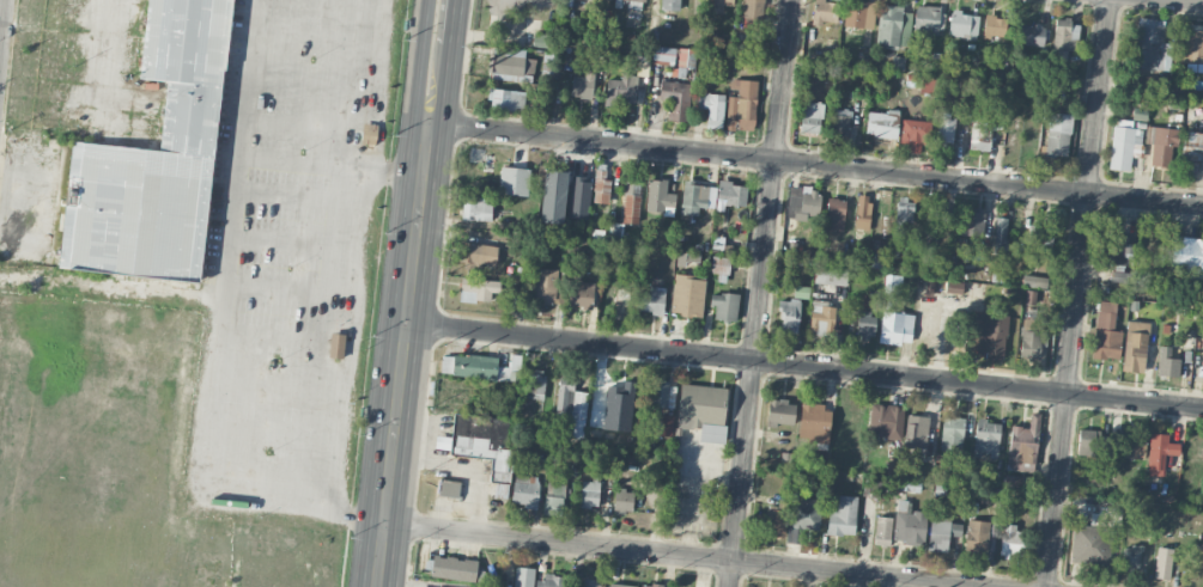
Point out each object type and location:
building: (637, 0)
road: (1195, 0)
building: (567, 2)
building: (723, 2)
building: (669, 5)
building: (753, 10)
building: (825, 11)
building: (859, 14)
building: (925, 19)
road: (2, 24)
building: (962, 25)
building: (893, 26)
building: (992, 26)
building: (1031, 35)
building: (1063, 38)
building: (541, 39)
building: (1189, 44)
building: (1150, 45)
building: (673, 56)
building: (510, 63)
building: (583, 85)
building: (926, 85)
building: (620, 90)
building: (505, 99)
building: (676, 99)
building: (741, 104)
building: (715, 111)
building: (810, 117)
building: (840, 120)
building: (881, 123)
building: (946, 129)
building: (915, 134)
building: (980, 134)
building: (1058, 134)
building: (367, 135)
building: (1161, 146)
building: (1191, 152)
building: (154, 159)
road: (330, 163)
road: (815, 163)
building: (514, 181)
building: (601, 190)
building: (711, 196)
building: (579, 197)
building: (660, 197)
building: (631, 201)
building: (808, 206)
building: (476, 209)
building: (862, 212)
building: (904, 212)
building: (834, 214)
building: (974, 221)
building: (1000, 232)
building: (1040, 236)
road: (340, 253)
building: (478, 255)
building: (686, 258)
building: (1186, 258)
building: (719, 264)
building: (830, 275)
building: (1034, 281)
building: (545, 285)
road: (109, 289)
building: (478, 289)
building: (801, 292)
road: (407, 293)
road: (760, 293)
road: (1079, 293)
building: (582, 294)
building: (687, 295)
building: (650, 300)
building: (724, 306)
building: (789, 316)
building: (821, 317)
building: (864, 324)
building: (895, 328)
road: (215, 330)
building: (1106, 331)
building: (991, 332)
building: (1029, 334)
building: (336, 346)
building: (1135, 346)
building: (1202, 348)
road: (803, 365)
building: (1167, 365)
building: (535, 386)
building: (662, 395)
building: (618, 406)
building: (570, 410)
building: (703, 410)
building: (780, 412)
building: (886, 420)
building: (814, 422)
building: (916, 432)
building: (952, 433)
building: (986, 439)
building: (484, 440)
building: (1089, 442)
building: (1023, 446)
building: (1131, 446)
building: (1159, 452)
building: (449, 488)
building: (524, 490)
building: (589, 494)
building: (553, 499)
building: (622, 501)
building: (843, 516)
building: (803, 518)
building: (776, 522)
building: (909, 524)
building: (882, 527)
building: (942, 534)
building: (977, 539)
building: (1013, 542)
building: (1089, 544)
road: (682, 555)
building: (1130, 558)
building: (1162, 563)
building: (454, 568)
building: (523, 576)
building: (549, 581)
building: (587, 582)
building: (620, 585)
building: (650, 585)

